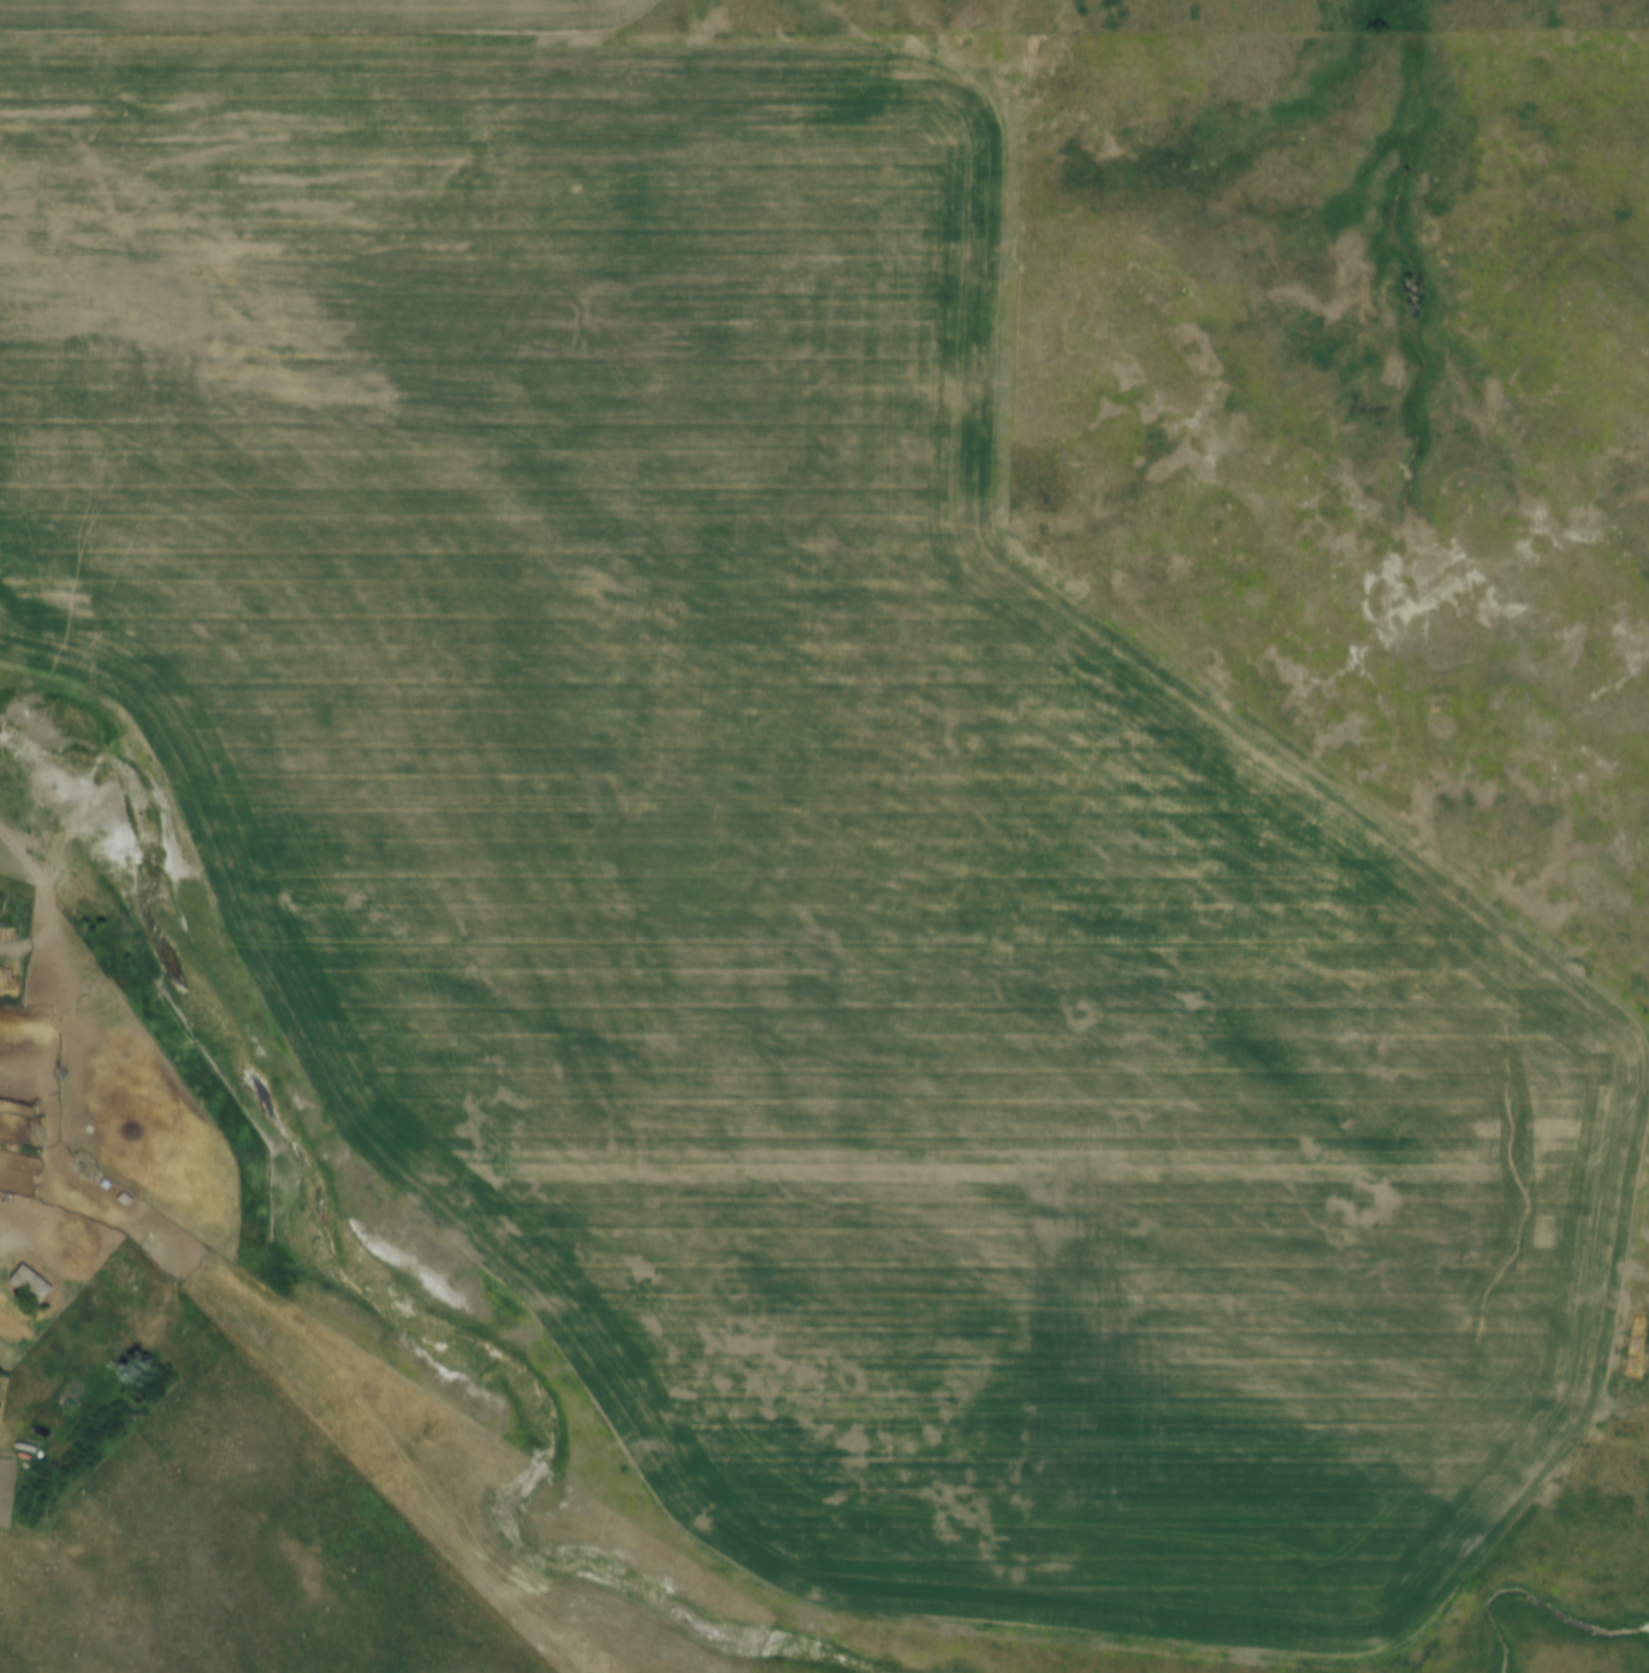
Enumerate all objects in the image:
building: (32, 1284)

